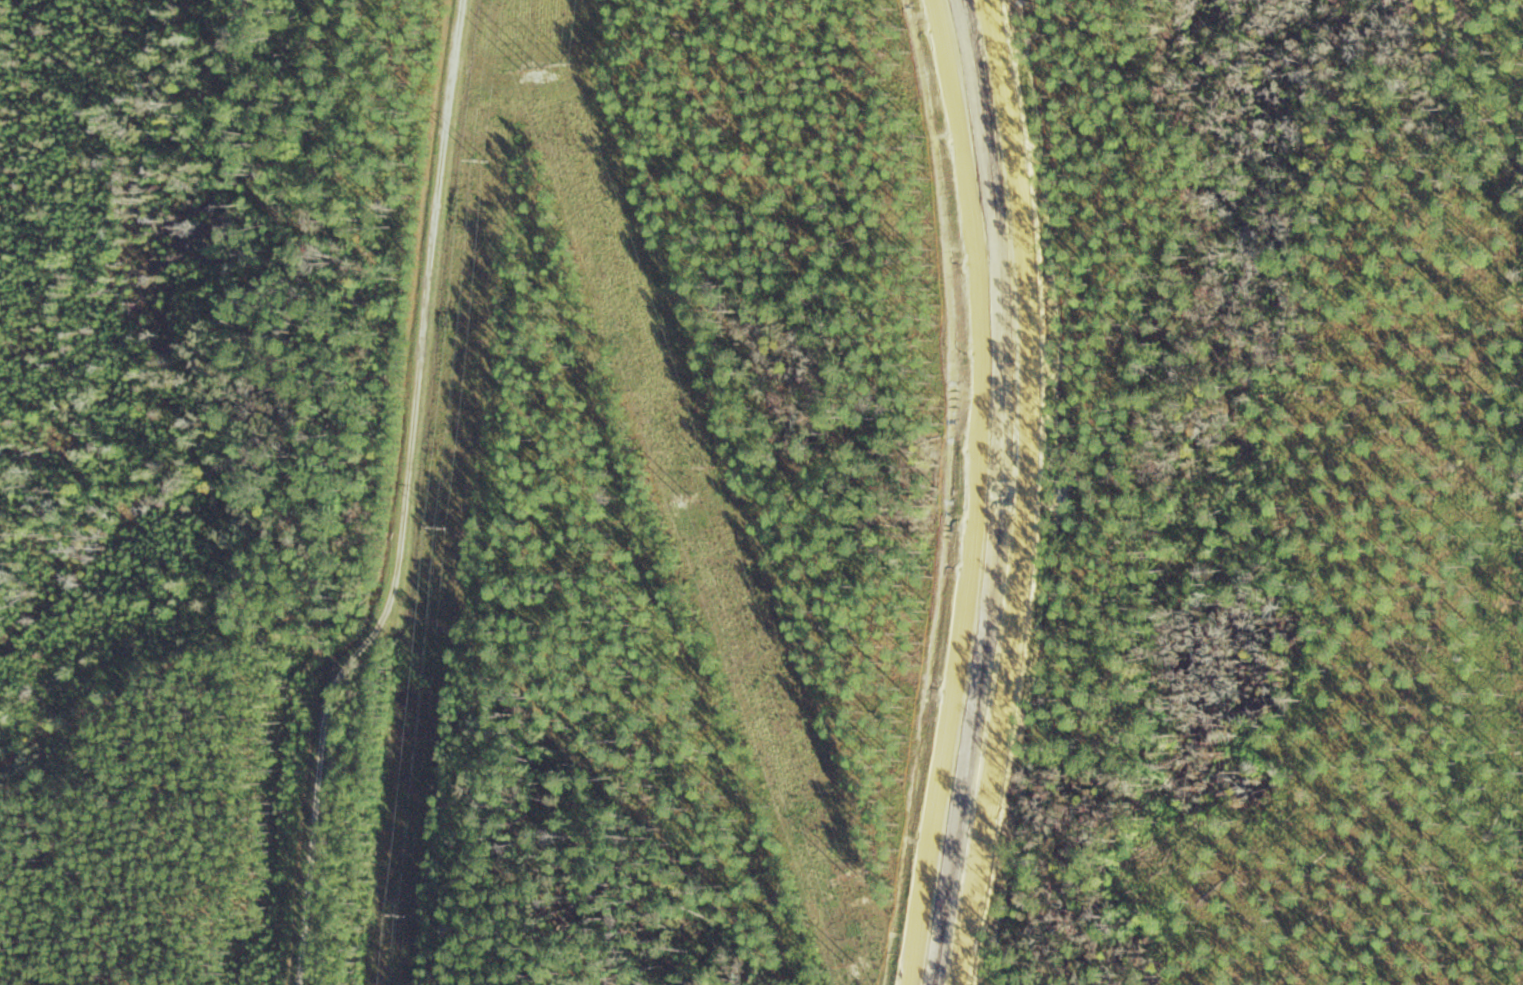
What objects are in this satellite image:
power tower: (566, 64)
power tower: (534, 65)
power tower: (483, 160)
power tower: (711, 467)
power tower: (689, 502)
power tower: (442, 529)
power tower: (829, 898)
power tower: (863, 900)
power tower: (403, 915)

